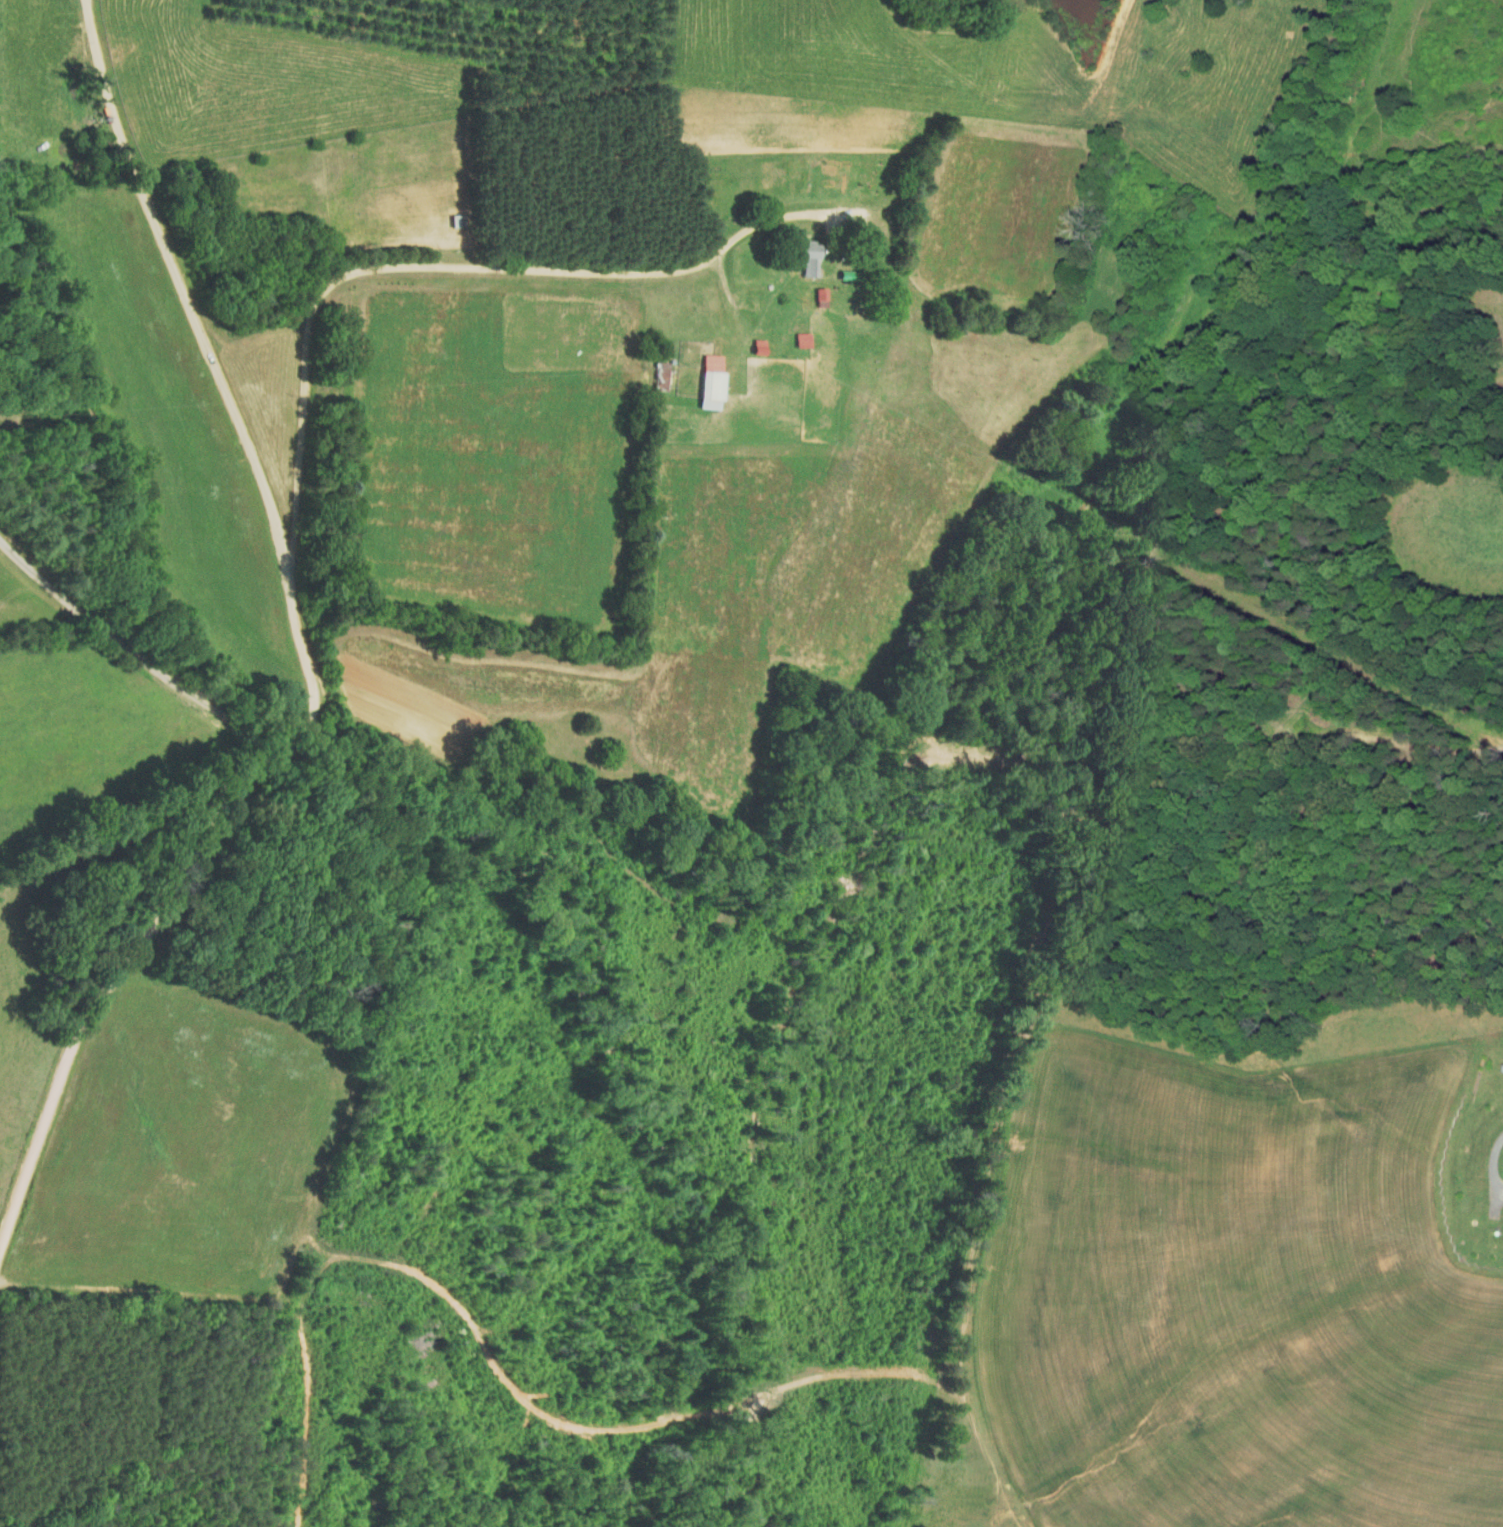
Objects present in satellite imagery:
building: (803, 256)
road: (465, 268)
building: (819, 296)
building: (801, 339)
building: (659, 374)
building: (709, 381)
road: (136, 649)
road: (315, 669)

